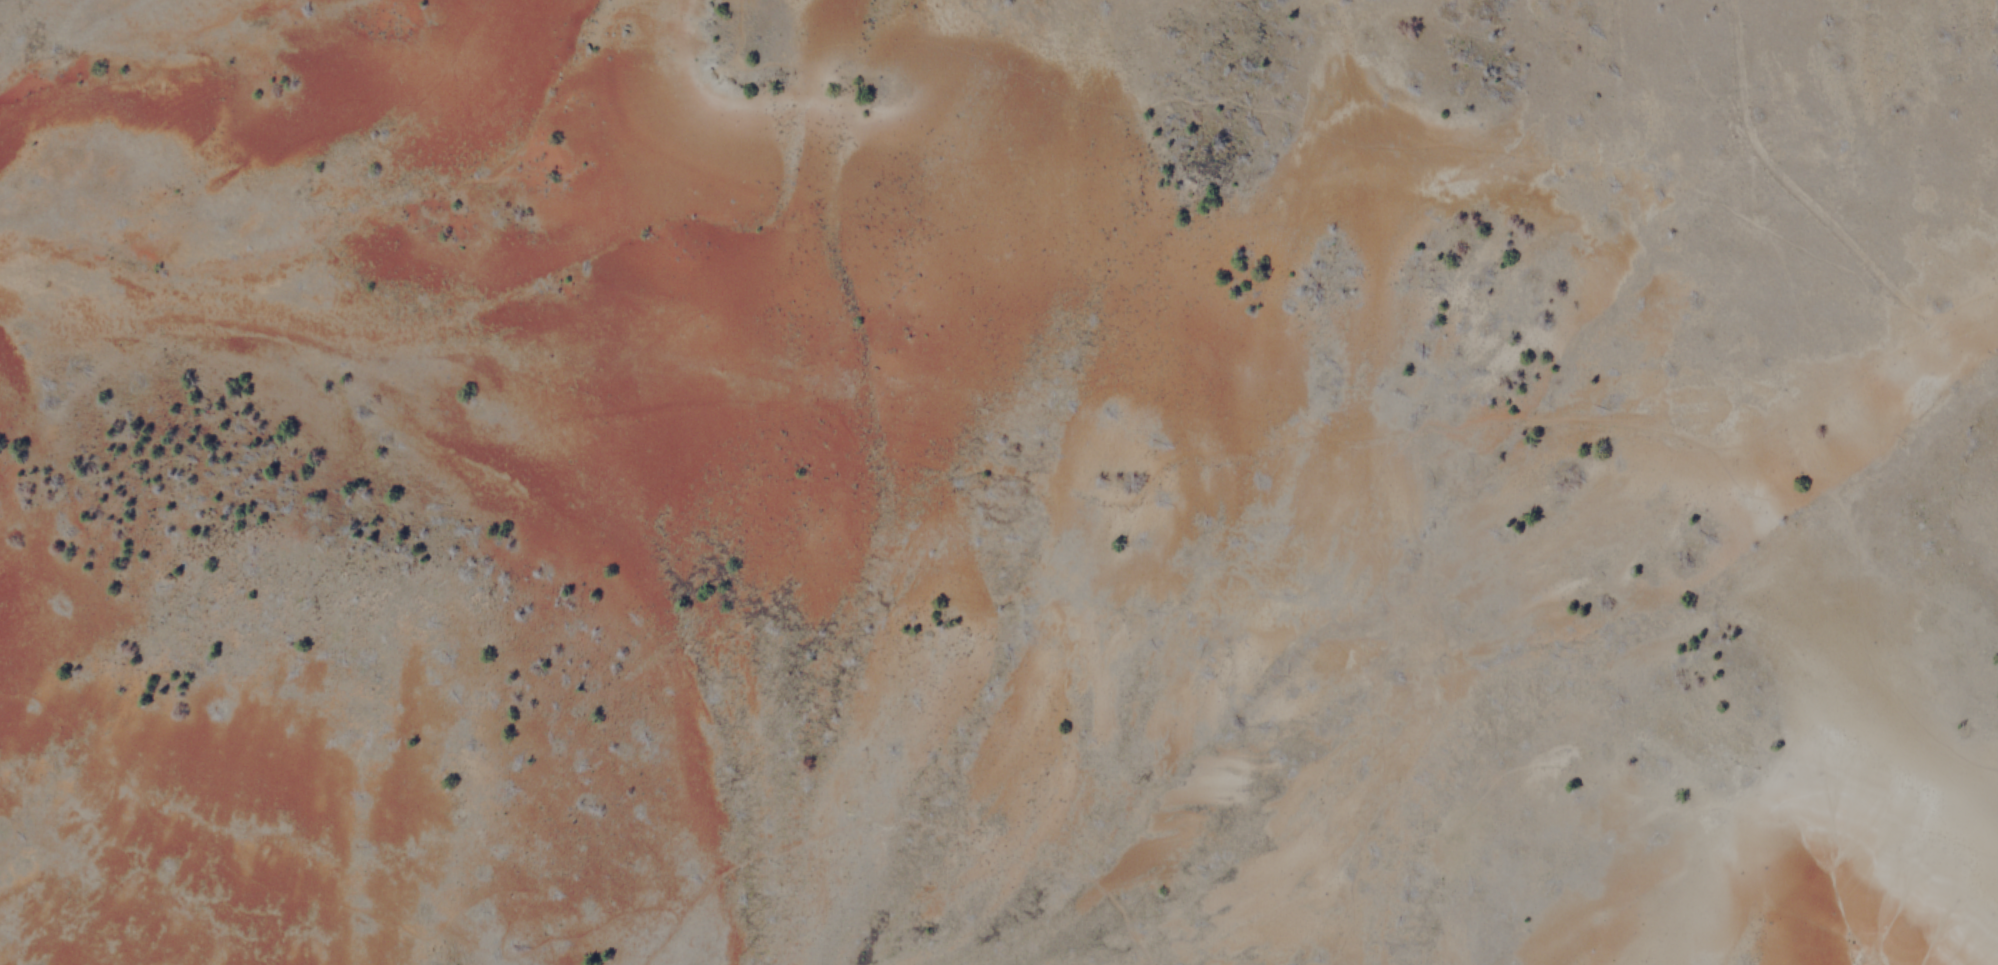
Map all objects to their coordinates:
road: (147, 72)
road: (1492, 153)
road: (1650, 797)
road: (919, 824)
road: (390, 923)

